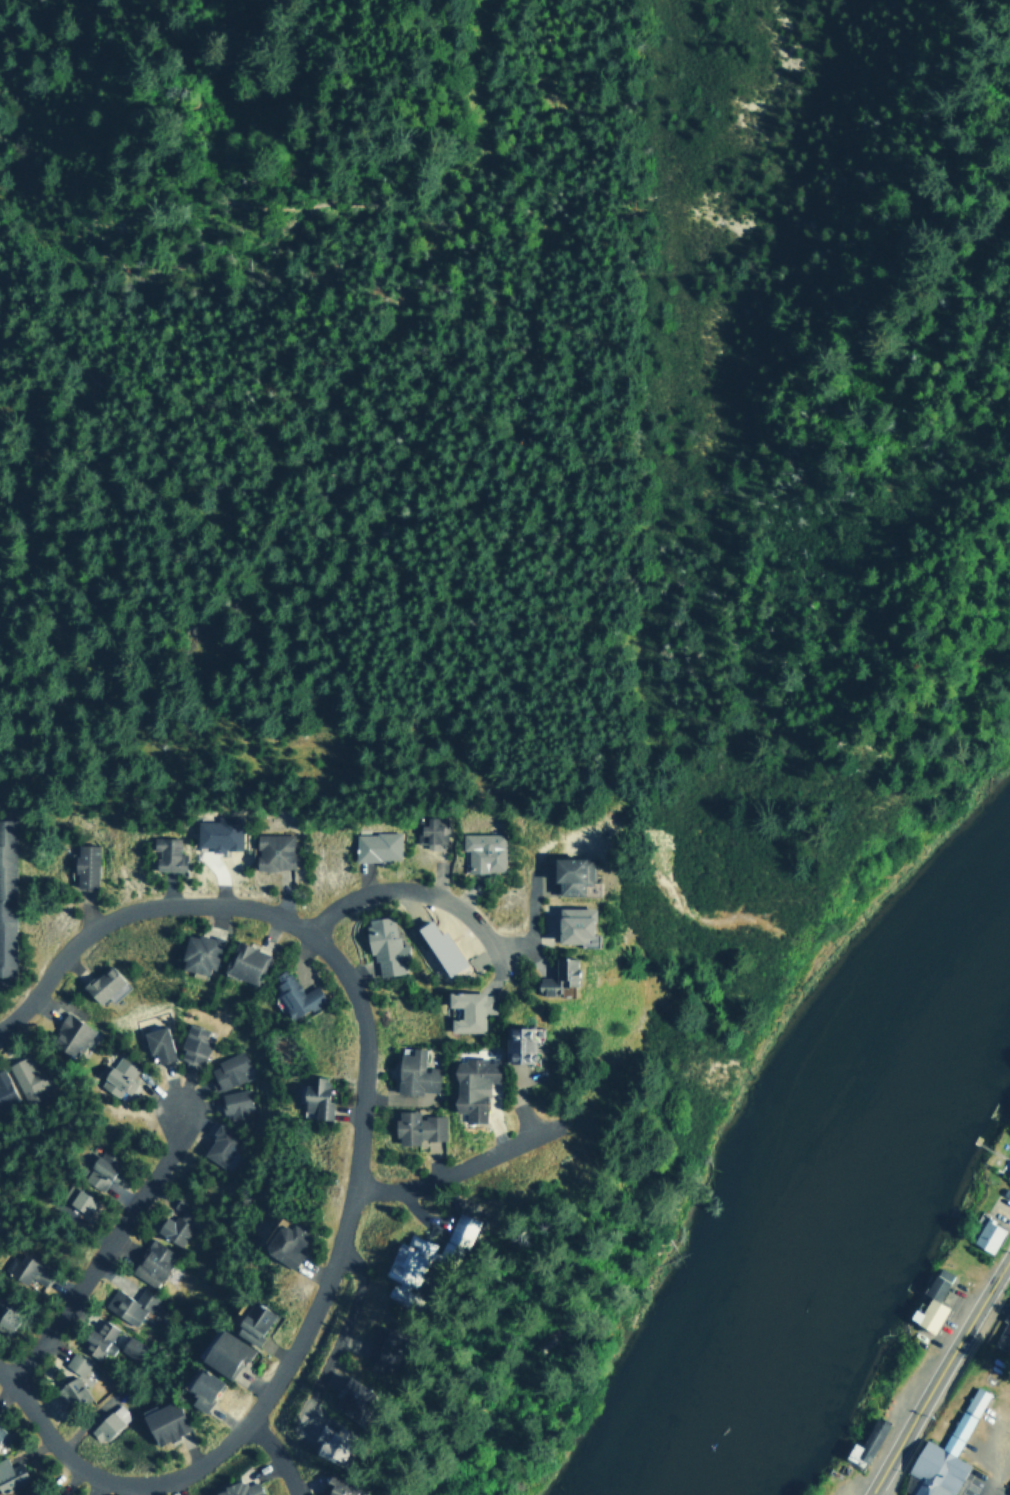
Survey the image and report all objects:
building: (428, 831)
building: (218, 832)
building: (374, 846)
building: (272, 851)
building: (481, 851)
building: (165, 853)
building: (83, 865)
building: (567, 875)
road: (415, 887)
building: (6, 895)
building: (571, 925)
building: (382, 944)
building: (438, 946)
building: (199, 952)
building: (244, 962)
building: (553, 974)
building: (101, 983)
building: (292, 994)
building: (466, 1008)
building: (67, 1034)
building: (515, 1041)
building: (154, 1042)
building: (191, 1042)
building: (227, 1068)
building: (413, 1072)
building: (116, 1074)
building: (468, 1084)
building: (4, 1090)
building: (314, 1095)
building: (234, 1104)
building: (415, 1126)
building: (219, 1144)
road: (355, 1158)
building: (98, 1168)
road: (457, 1168)
building: (1007, 1174)
river: (826, 1192)
building: (76, 1198)
building: (173, 1228)
building: (459, 1228)
building: (986, 1235)
building: (285, 1243)
road: (105, 1248)
building: (151, 1261)
building: (403, 1265)
building: (26, 1269)
building: (929, 1301)
building: (128, 1304)
building: (6, 1318)
building: (250, 1321)
building: (1003, 1333)
building: (97, 1338)
building: (222, 1352)
building: (377, 1353)
crop: (999, 1360)
building: (74, 1363)
road: (940, 1376)
building: (200, 1388)
building: (68, 1391)
building: (346, 1392)
building: (107, 1421)
building: (163, 1421)
building: (0, 1428)
building: (328, 1441)
building: (864, 1442)
road: (281, 1451)
building: (940, 1455)
building: (10, 1473)
building: (333, 1487)
road: (129, 1489)
building: (236, 1489)
building: (18, 1493)
building: (1009, 1493)

